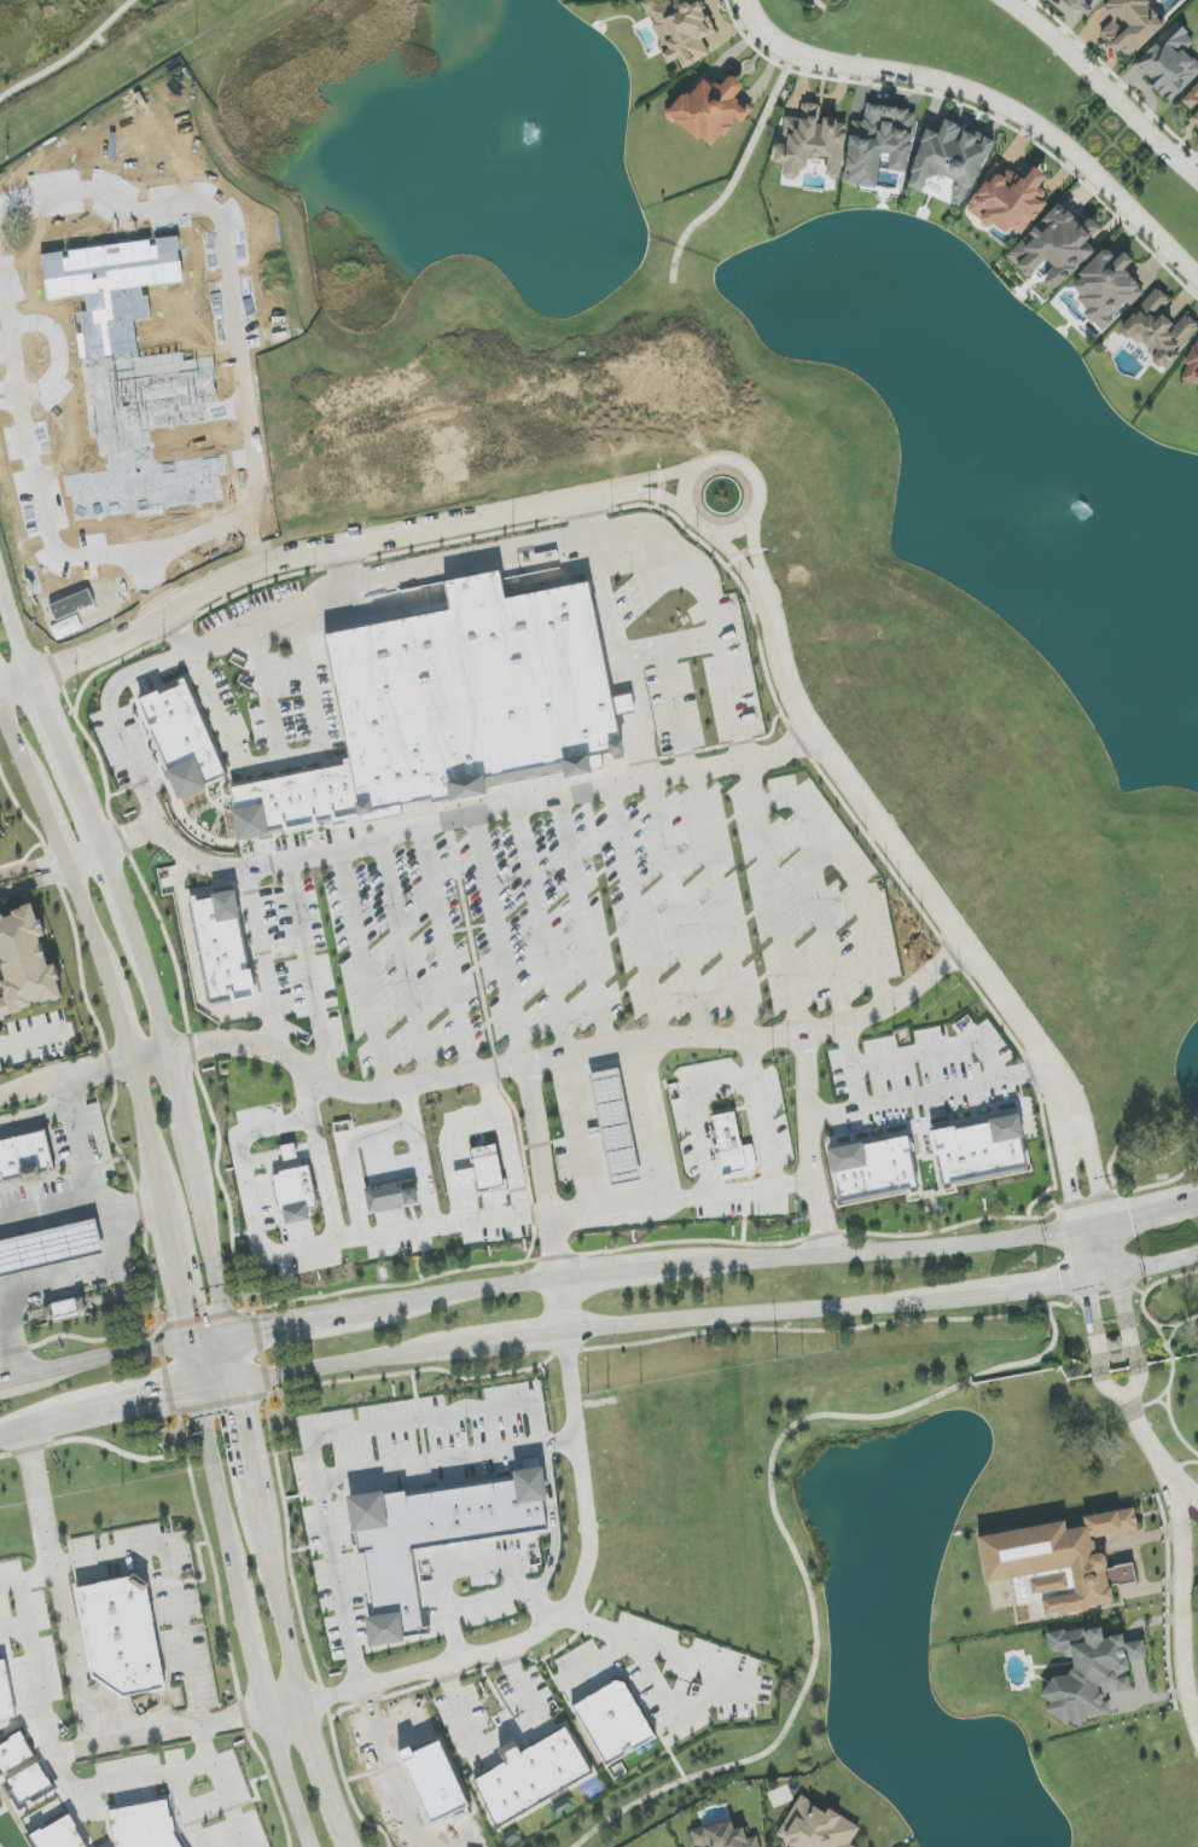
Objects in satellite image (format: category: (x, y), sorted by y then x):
building: (1088, 5)
building: (1130, 24)
park: (48, 30)
building: (680, 30)
road: (69, 54)
building: (1169, 63)
road: (1104, 85)
road: (989, 98)
building: (1193, 104)
building: (709, 109)
fountain: (529, 129)
building: (810, 143)
building: (878, 144)
building: (949, 159)
building: (1008, 198)
building: (1055, 246)
building: (1106, 289)
building: (1159, 330)
building: (1192, 365)
building: (1197, 407)
road: (641, 481)
road: (641, 493)
fountain: (1082, 504)
road: (585, 521)
road: (691, 521)
road: (364, 542)
road: (568, 546)
road: (754, 553)
road: (735, 559)
road: (343, 570)
parking lot: (630, 608)
road: (607, 626)
road: (16, 631)
road: (692, 647)
road: (93, 655)
road: (632, 667)
parking lot: (277, 679)
road: (14, 683)
road: (205, 691)
building: (455, 697)
road: (266, 699)
road: (623, 704)
road: (640, 709)
parking lot: (130, 728)
road: (322, 732)
building: (180, 734)
road: (638, 749)
road: (63, 755)
road: (798, 806)
road: (778, 808)
road: (880, 830)
building: (0, 831)
road: (432, 835)
road: (706, 849)
road: (31, 869)
road: (34, 885)
parking lot: (585, 910)
road: (680, 914)
road: (636, 919)
road: (583, 929)
road: (541, 939)
building: (222, 942)
road: (500, 947)
road: (95, 952)
road: (472, 952)
road: (448, 958)
building: (25, 960)
road: (263, 968)
road: (406, 968)
road: (364, 976)
road: (309, 977)
road: (29, 1042)
road: (938, 1056)
road: (575, 1059)
road: (149, 1061)
road: (751, 1063)
parking lot: (918, 1067)
road: (854, 1076)
road: (173, 1078)
road: (1058, 1080)
road: (64, 1081)
road: (1052, 1096)
road: (926, 1105)
road: (694, 1114)
road: (37, 1115)
building: (612, 1125)
gas station: (612, 1125)
road: (647, 1126)
road: (766, 1133)
road: (583, 1139)
building: (728, 1143)
road: (1118, 1145)
road: (1126, 1148)
building: (27, 1151)
road: (808, 1151)
building: (979, 1151)
building: (289, 1152)
road: (1138, 1161)
building: (488, 1167)
parking lot: (563, 1167)
road: (1092, 1167)
road: (541, 1173)
building: (873, 1173)
road: (1071, 1187)
building: (295, 1193)
traffic signals: (1074, 1198)
road: (681, 1200)
road: (1194, 1201)
road: (1084, 1202)
road: (51, 1208)
road: (135, 1212)
road: (1142, 1213)
traffic signals: (1130, 1216)
road: (490, 1221)
road: (447, 1225)
road: (110, 1227)
road: (380, 1233)
road: (345, 1236)
gas station: (51, 1243)
building: (50, 1248)
road: (286, 1249)
road: (897, 1251)
road: (1099, 1251)
road: (1150, 1266)
road: (173, 1272)
road: (628, 1272)
road: (1163, 1280)
traffic signals: (1062, 1286)
road: (479, 1288)
road: (1043, 1288)
road: (1123, 1293)
road: (1105, 1297)
road: (1087, 1300)
traffic signals: (1124, 1300)
building: (63, 1306)
road: (562, 1306)
road: (1063, 1306)
road: (774, 1312)
traffic signals: (180, 1314)
road: (292, 1317)
road: (1, 1318)
road: (1128, 1318)
traffic signals: (266, 1322)
road: (1093, 1323)
road: (1159, 1325)
road: (1162, 1336)
road: (1171, 1337)
road: (10, 1340)
road: (499, 1341)
road: (657, 1342)
road: (1169, 1354)
road: (100, 1355)
road: (234, 1355)
road: (1118, 1359)
road: (188, 1365)
road: (336, 1365)
road: (10, 1378)
road: (1136, 1386)
road: (1112, 1390)
road: (264, 1392)
road: (1163, 1393)
traffic signals: (163, 1400)
road: (1163, 1404)
road: (136, 1405)
traffic signals: (245, 1406)
road: (424, 1421)
road: (1173, 1425)
road: (16, 1429)
road: (94, 1439)
road: (250, 1444)
road: (1151, 1445)
road: (1181, 1465)
road: (342, 1475)
road: (215, 1487)
road: (35, 1497)
building: (435, 1535)
road: (789, 1538)
road: (167, 1551)
building: (1059, 1562)
road: (472, 1568)
road: (200, 1570)
road: (1184, 1597)
road: (483, 1601)
road: (278, 1605)
road: (1191, 1607)
road: (565, 1610)
road: (302, 1619)
building: (126, 1632)
road: (225, 1632)
road: (652, 1646)
road: (249, 1648)
road: (70, 1660)
road: (597, 1660)
building: (1089, 1673)
road: (653, 1677)
building: (6, 1694)
road: (710, 1696)
road: (283, 1709)
building: (613, 1721)
road: (190, 1727)
road: (501, 1733)
building: (13, 1753)
road: (389, 1768)
road: (324, 1772)
building: (531, 1779)
road: (284, 1781)
building: (29, 1783)
building: (144, 1825)
building: (815, 1828)
building: (59, 1835)
building: (723, 1836)
road: (349, 1842)

